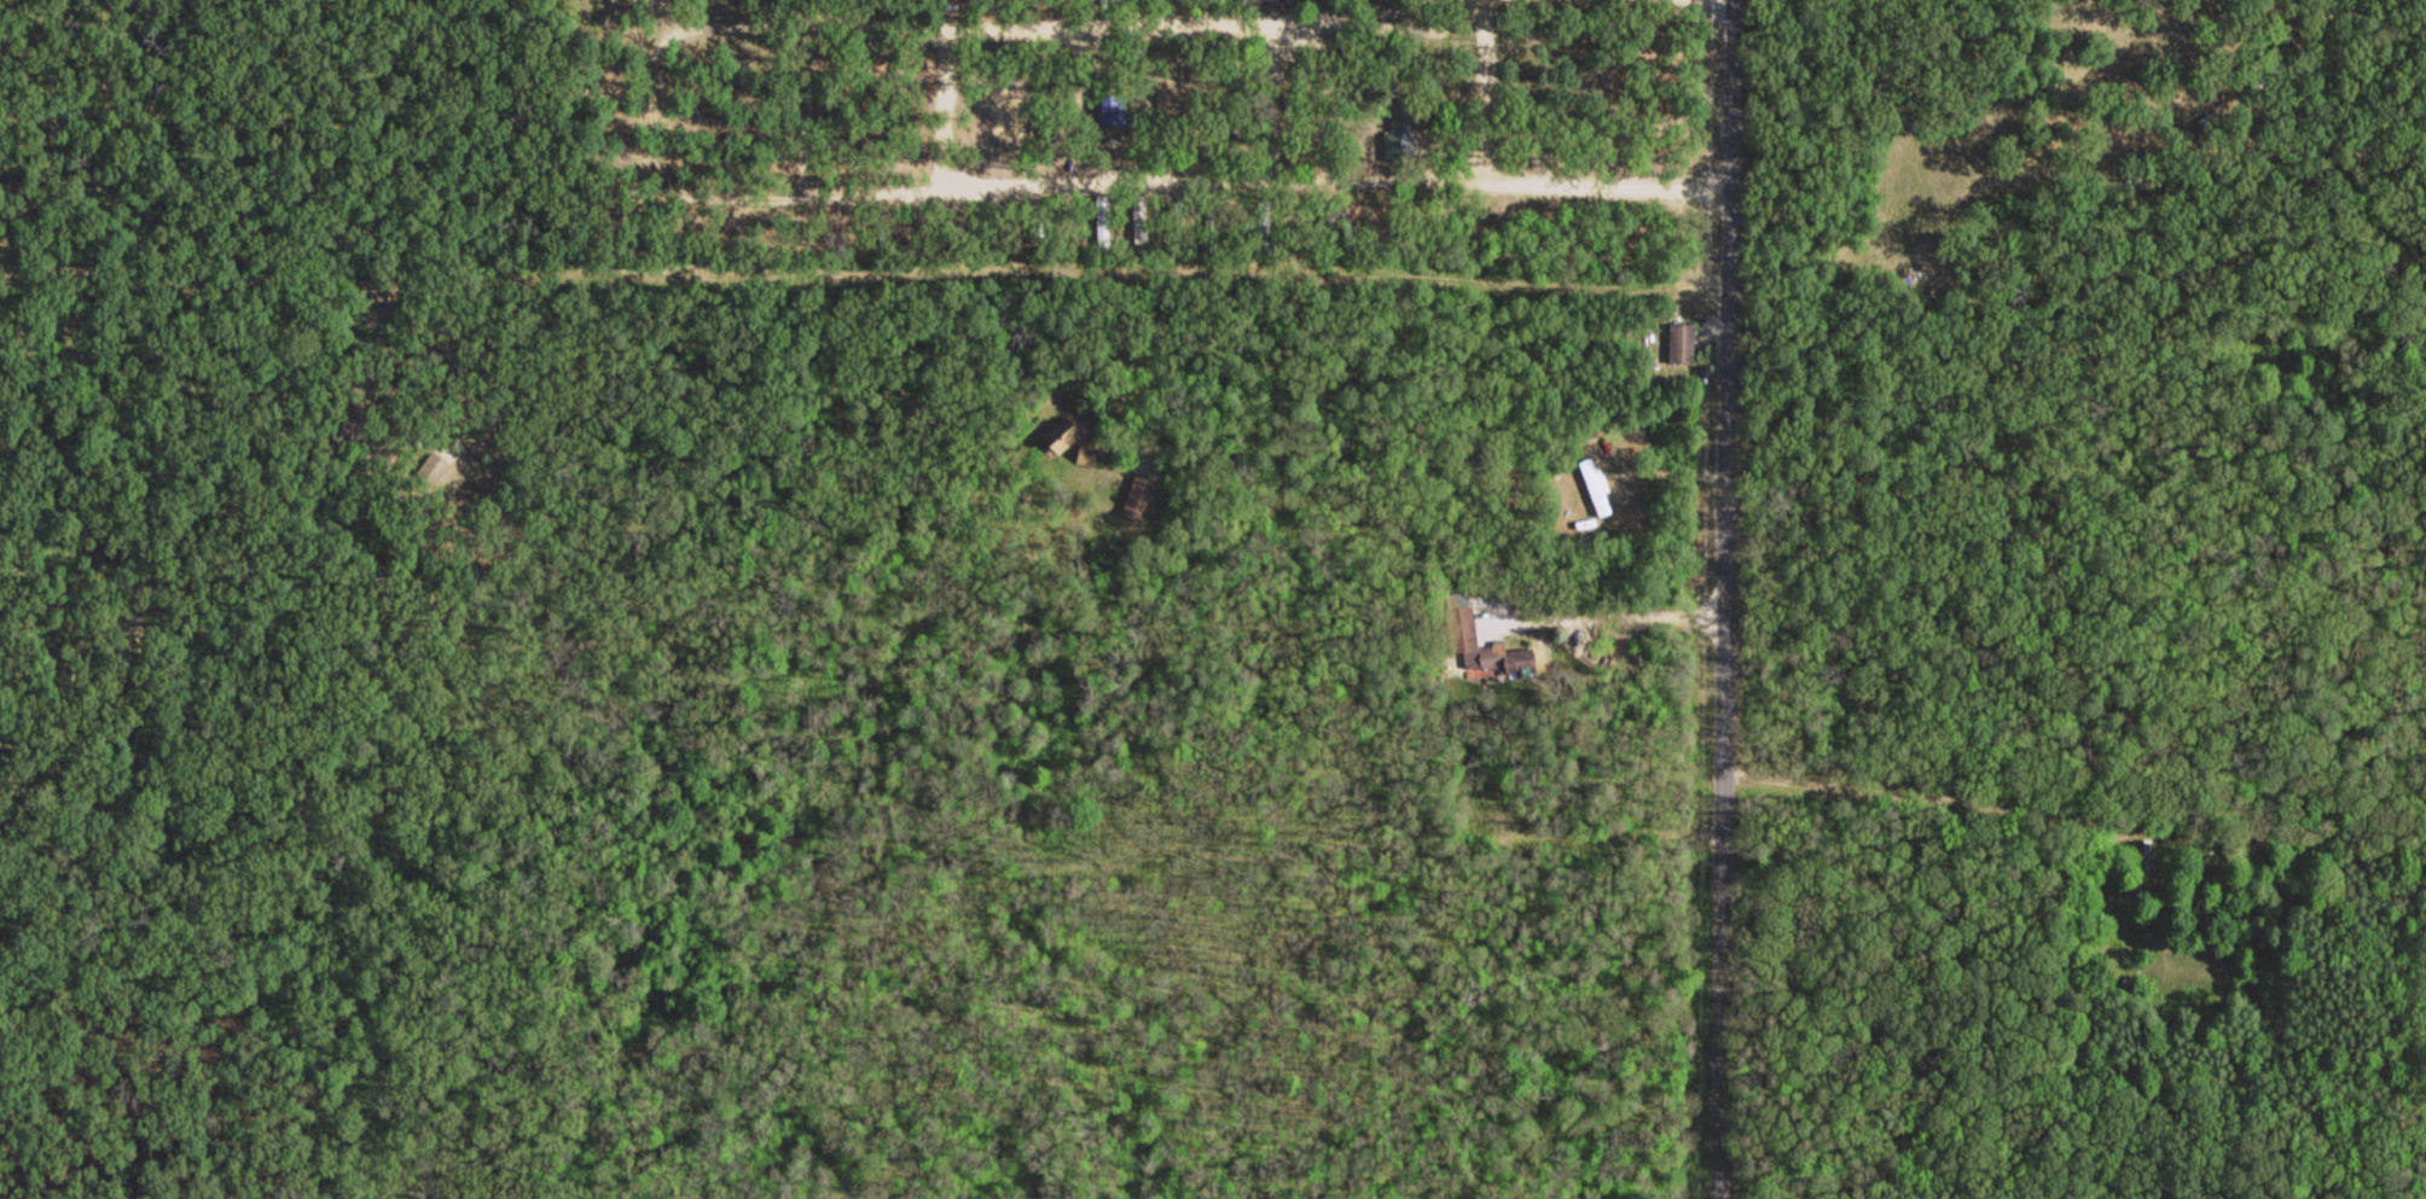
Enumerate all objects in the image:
building: (1458, 83)
building: (1113, 109)
building: (1397, 142)
road: (755, 197)
building: (1137, 221)
building: (1212, 225)
building: (1176, 226)
building: (881, 233)
building: (1679, 341)
building: (1060, 435)
building: (430, 466)
building: (1595, 484)
road: (1718, 599)
building: (1457, 616)
building: (2143, 856)

